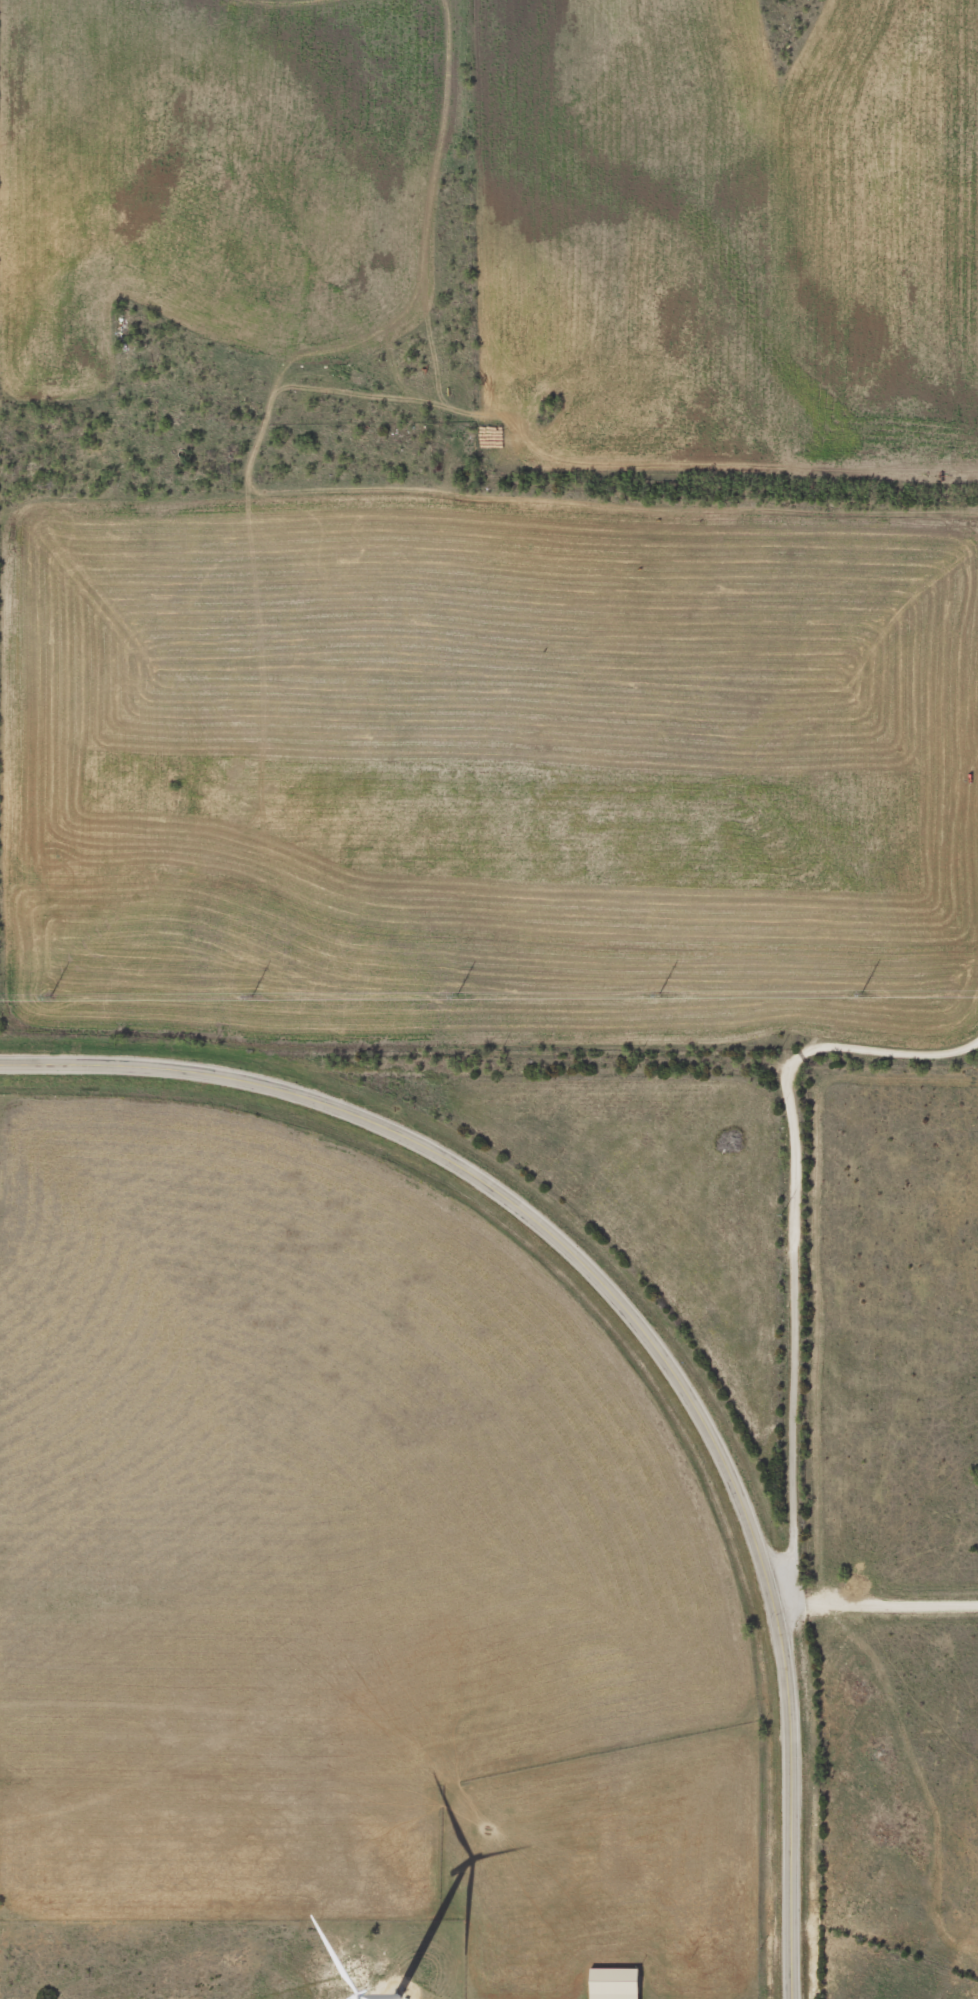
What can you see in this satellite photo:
road: (643, 498)
power tower: (861, 993)
power tower: (659, 994)
power tower: (48, 995)
power tower: (251, 995)
power tower: (457, 995)
road: (649, 1077)
road: (637, 1317)
road: (796, 1345)

